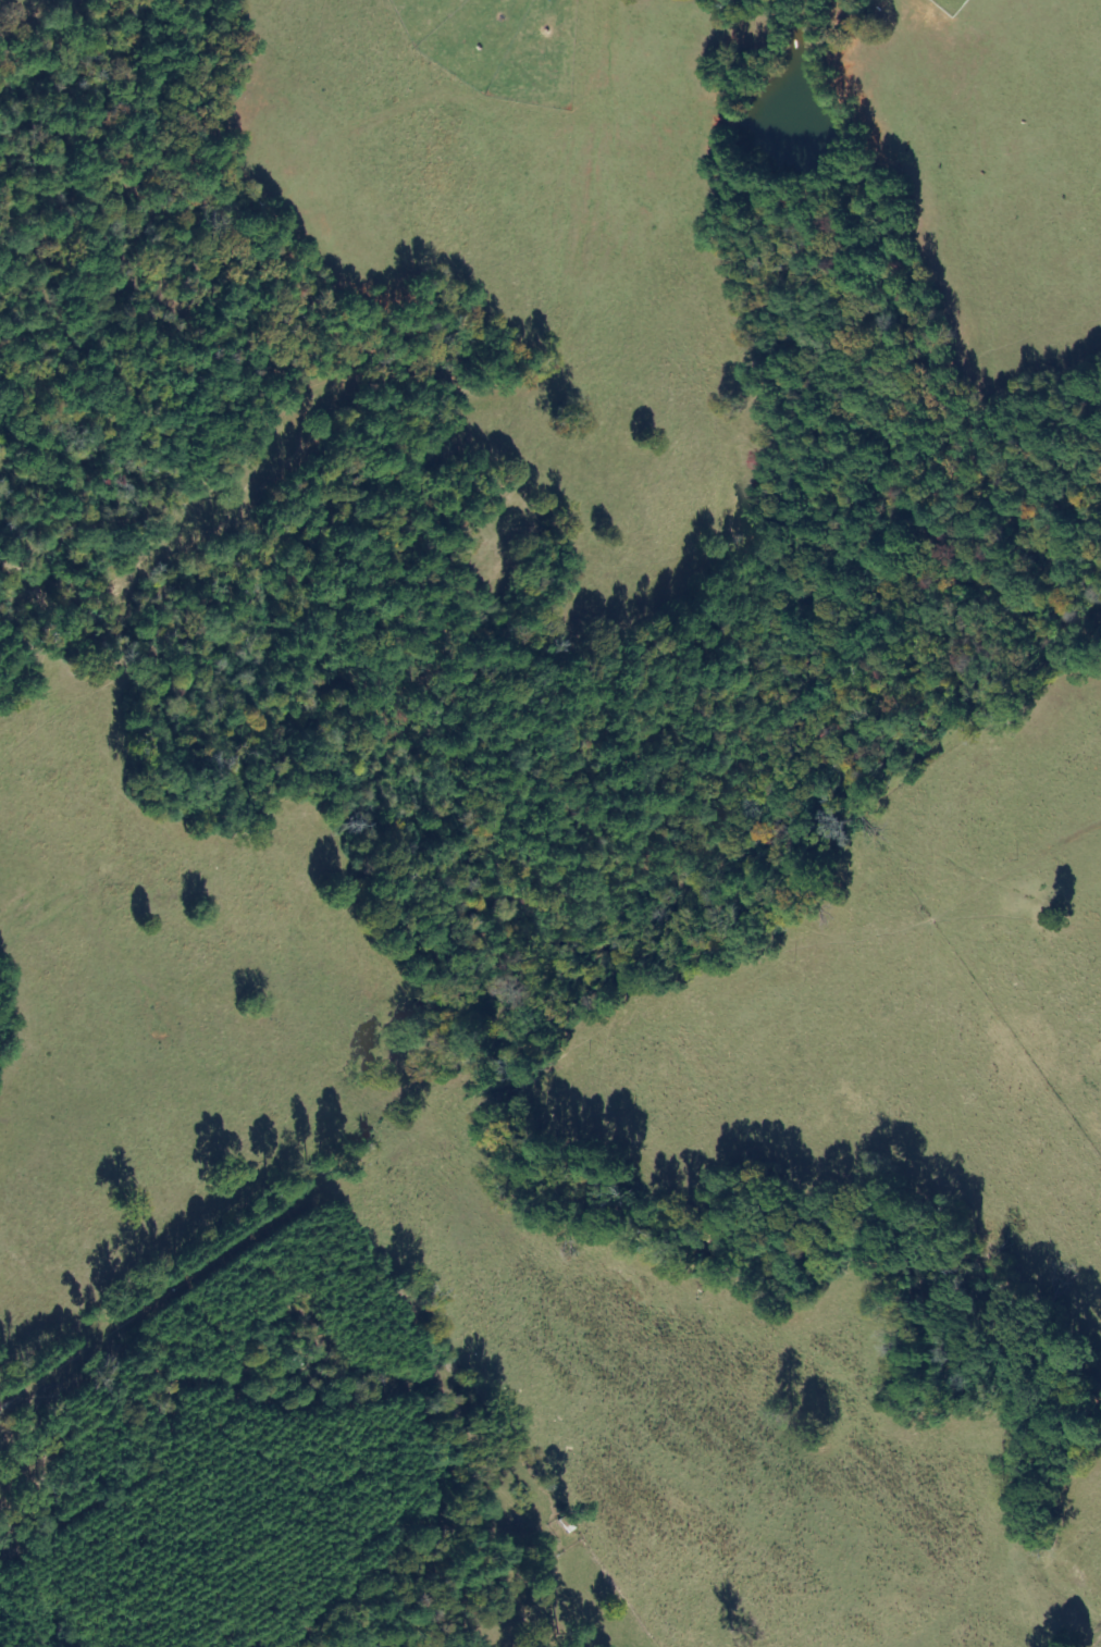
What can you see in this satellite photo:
road: (25, 1428)

